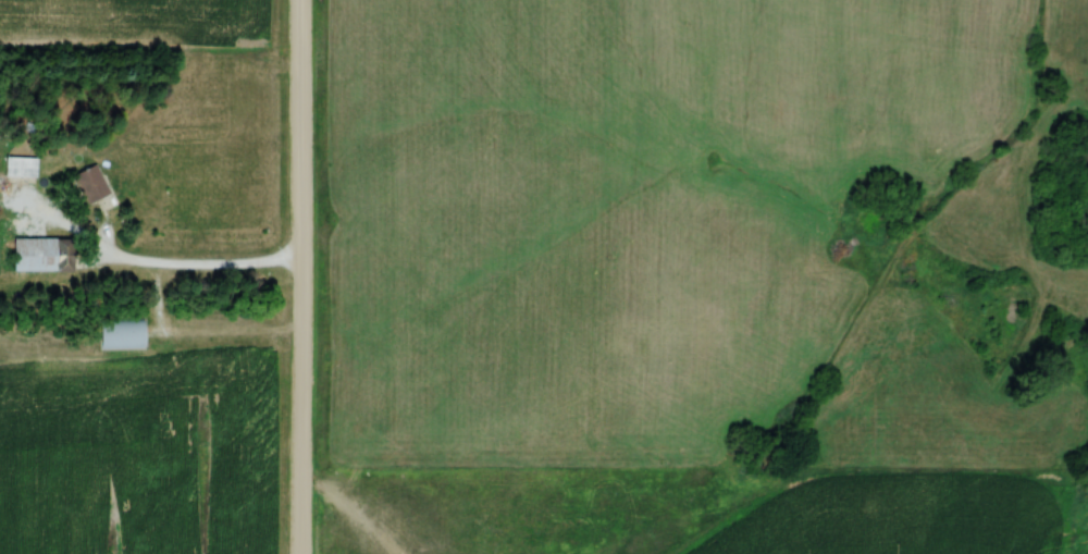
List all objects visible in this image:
building: (17, 169)
building: (89, 184)
building: (40, 256)
road: (203, 264)
road: (299, 276)
building: (119, 336)

